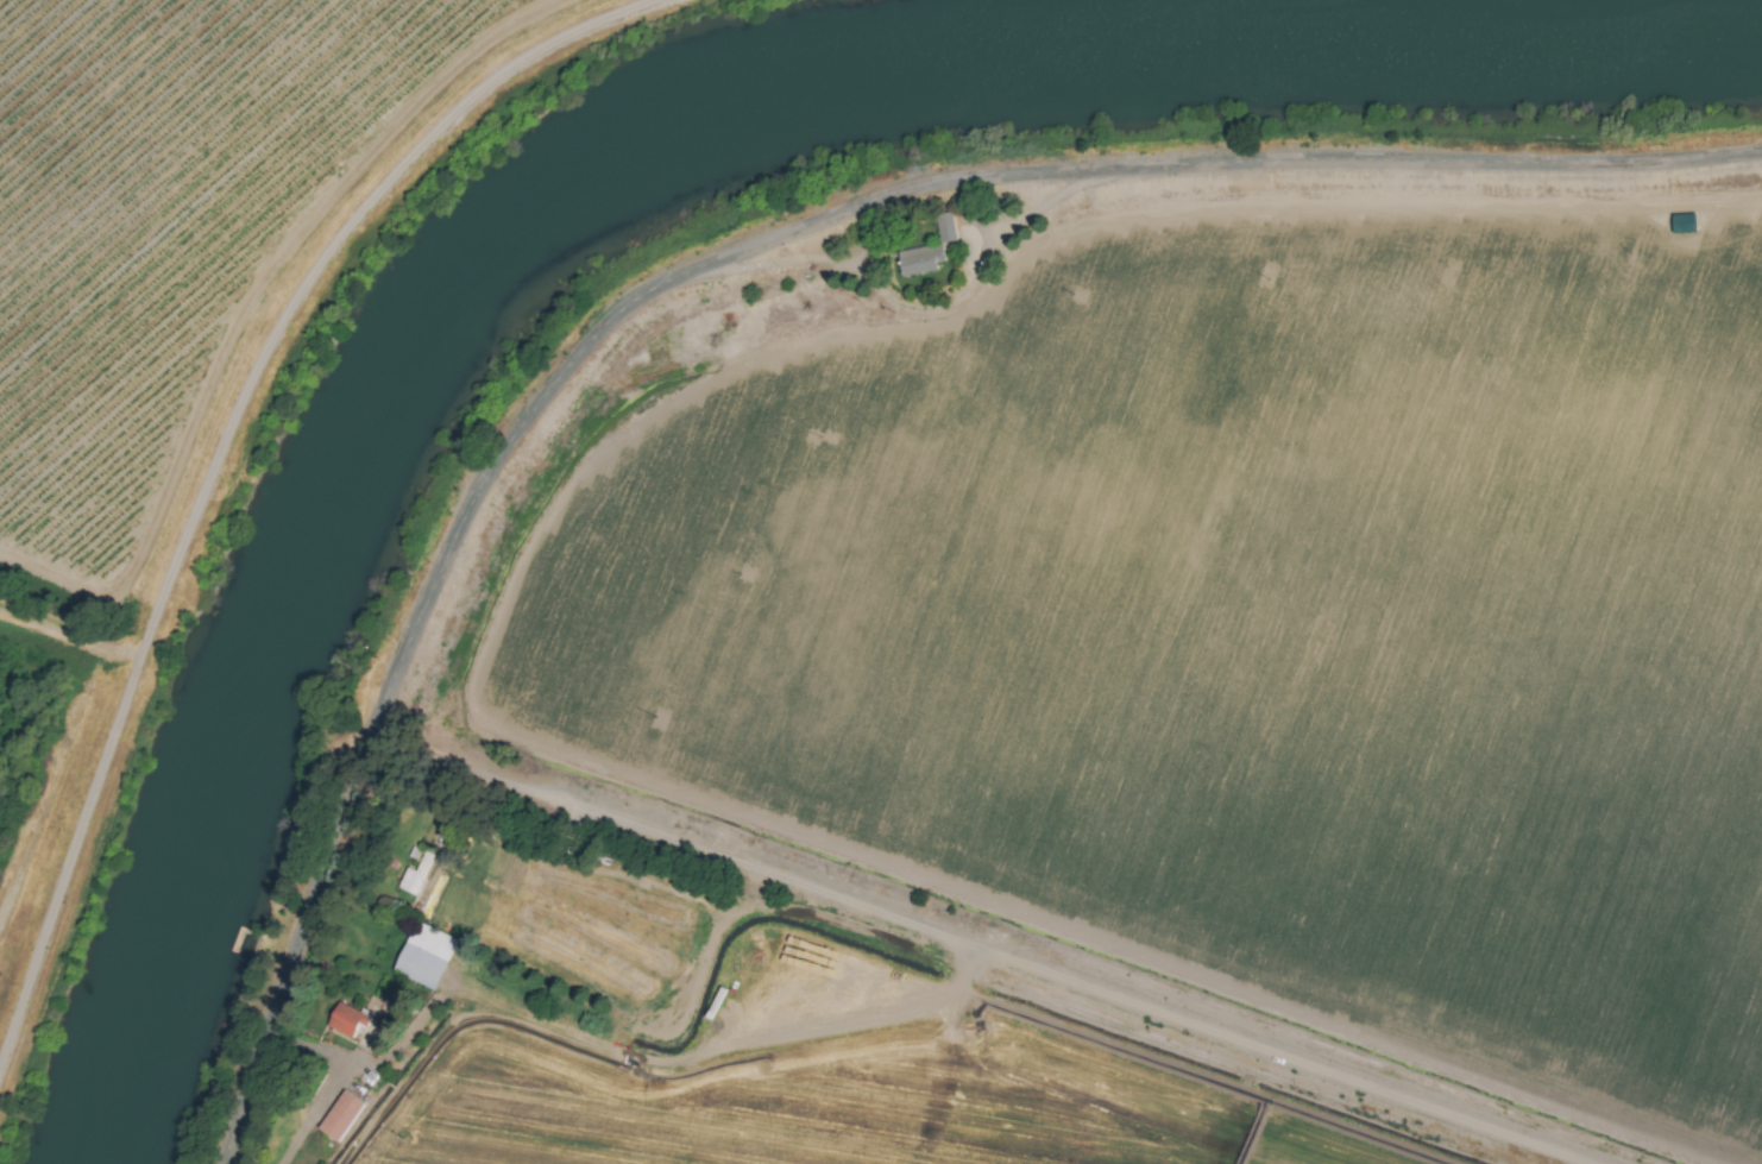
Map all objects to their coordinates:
building: (943, 228)
building: (920, 259)
road: (717, 260)
crop: (197, 298)
road: (924, 308)
road: (220, 446)
crop: (1105, 712)
building: (413, 879)
building: (426, 956)
building: (347, 1020)
road: (335, 1081)
building: (340, 1116)

